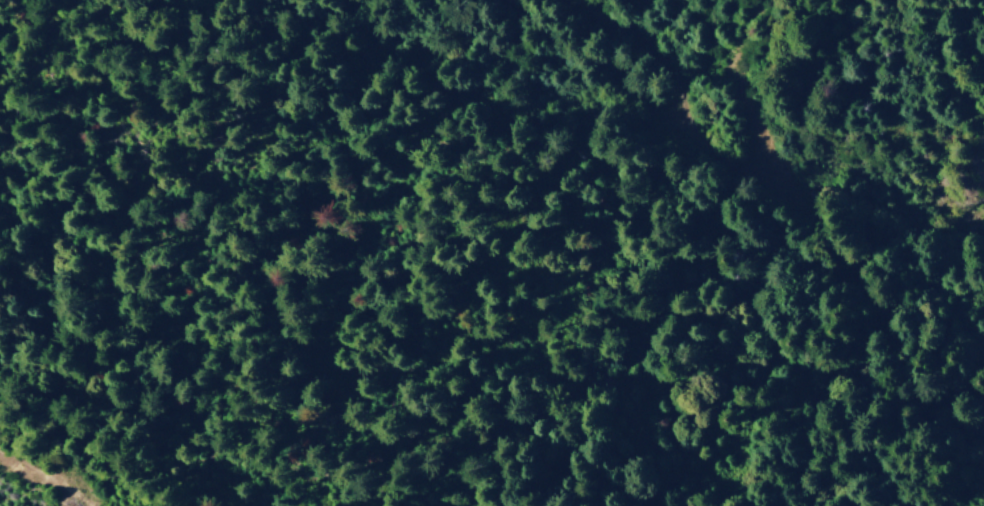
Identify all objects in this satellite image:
road: (786, 217)

